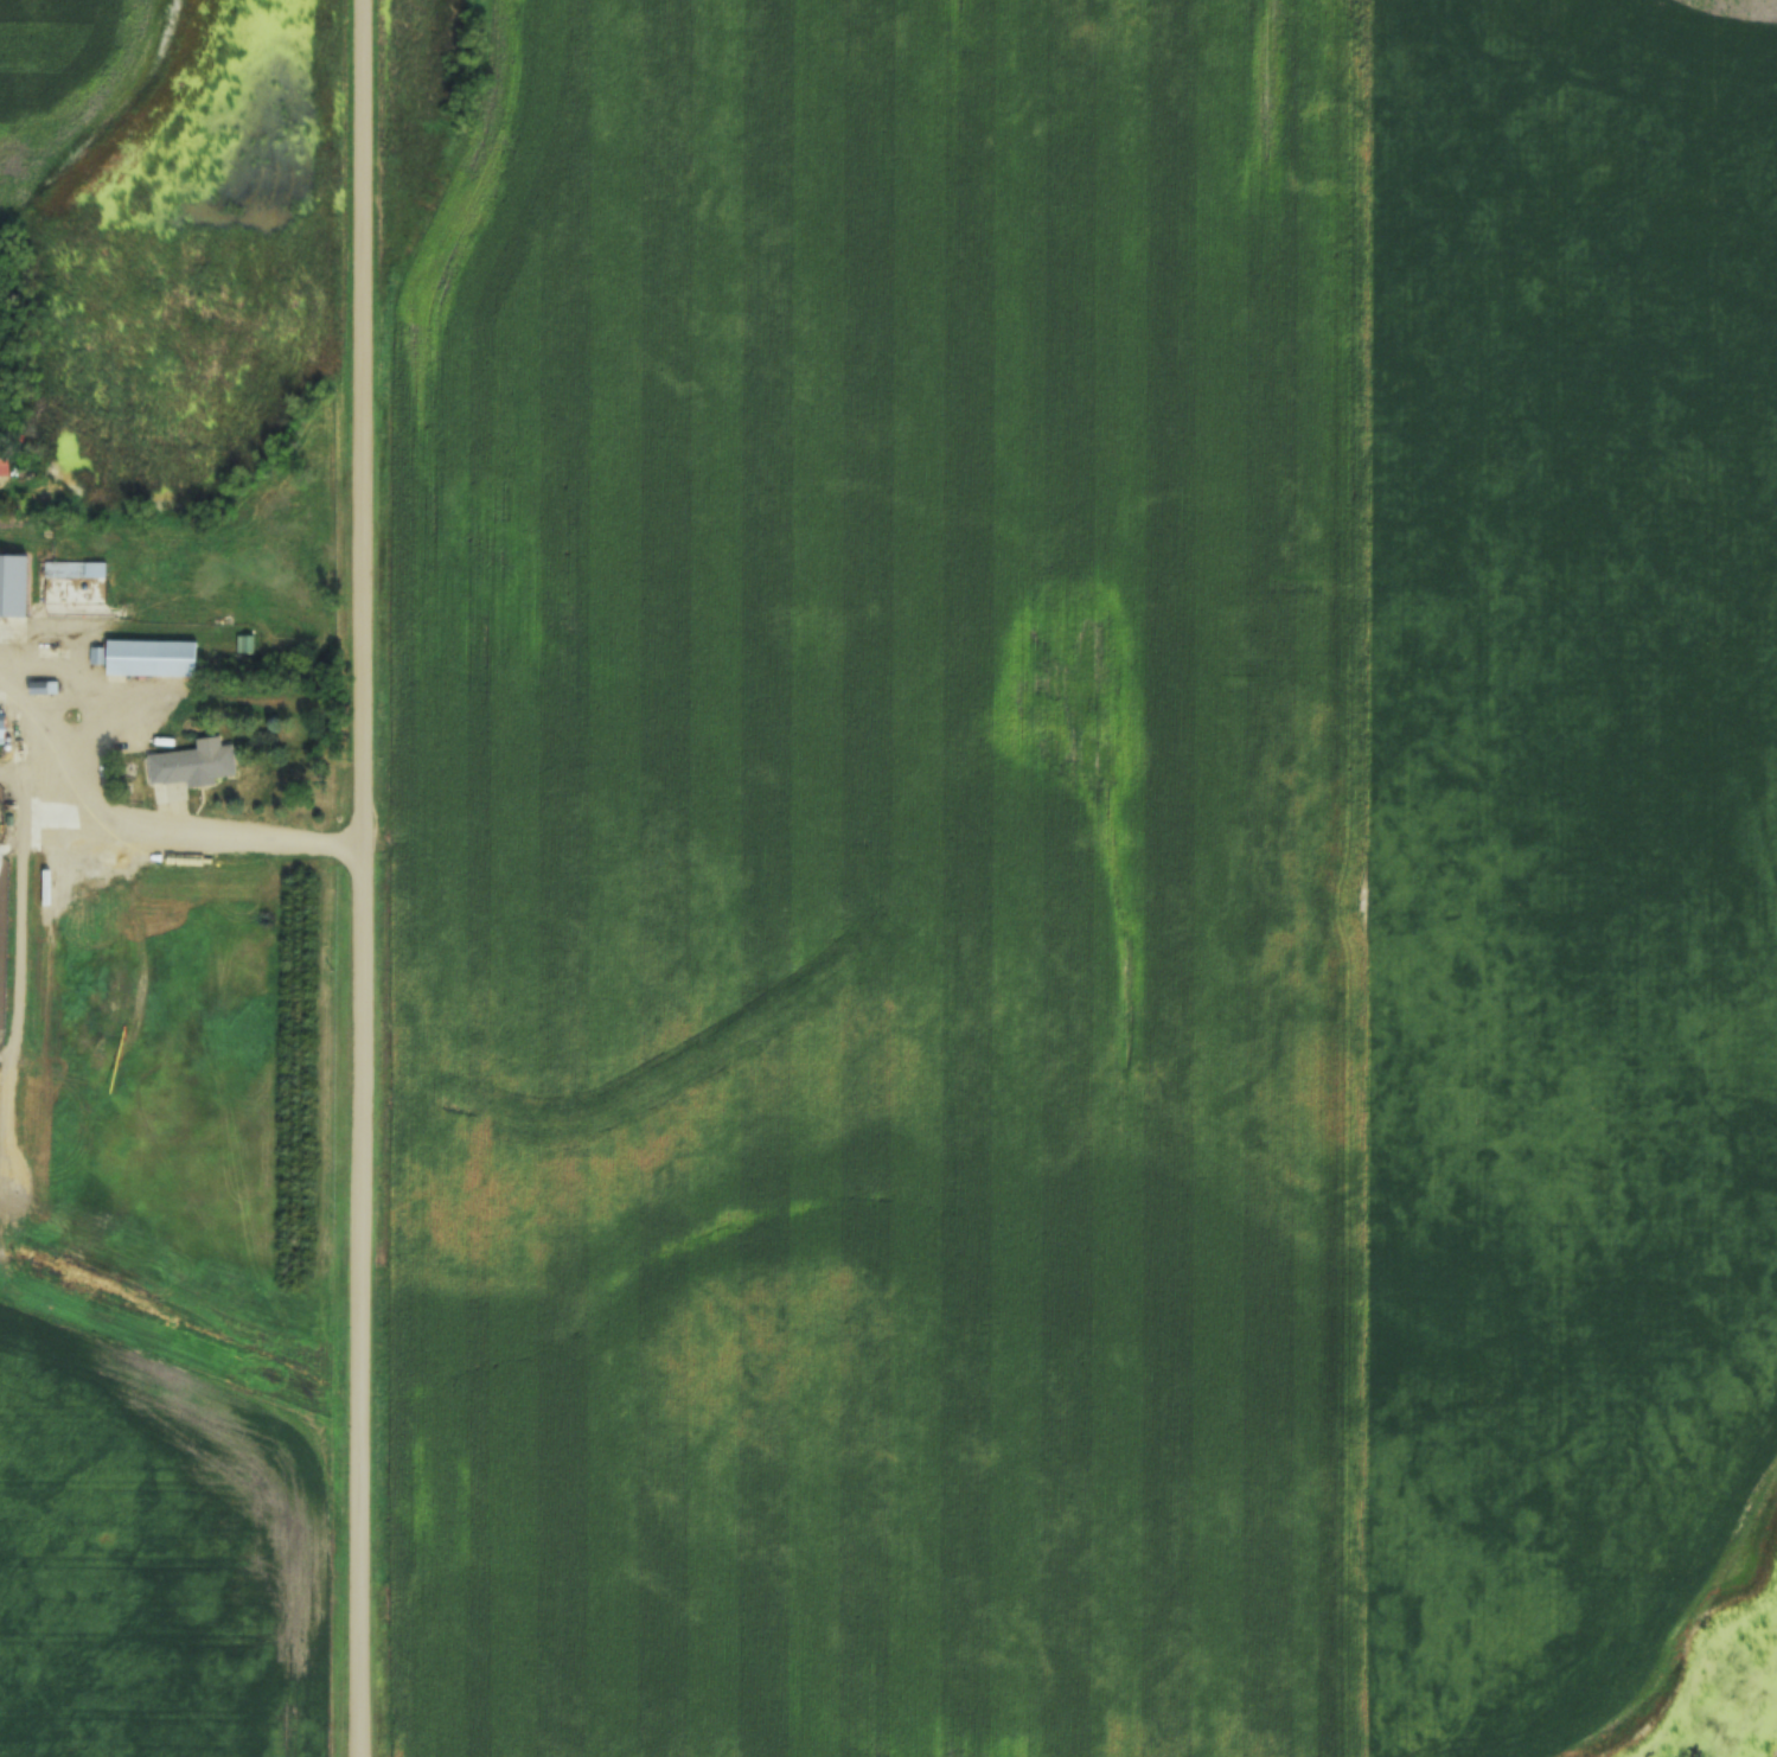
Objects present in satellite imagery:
building: (64, 571)
building: (15, 587)
building: (154, 659)
building: (5, 729)
building: (199, 767)
road: (151, 831)
road: (365, 877)

